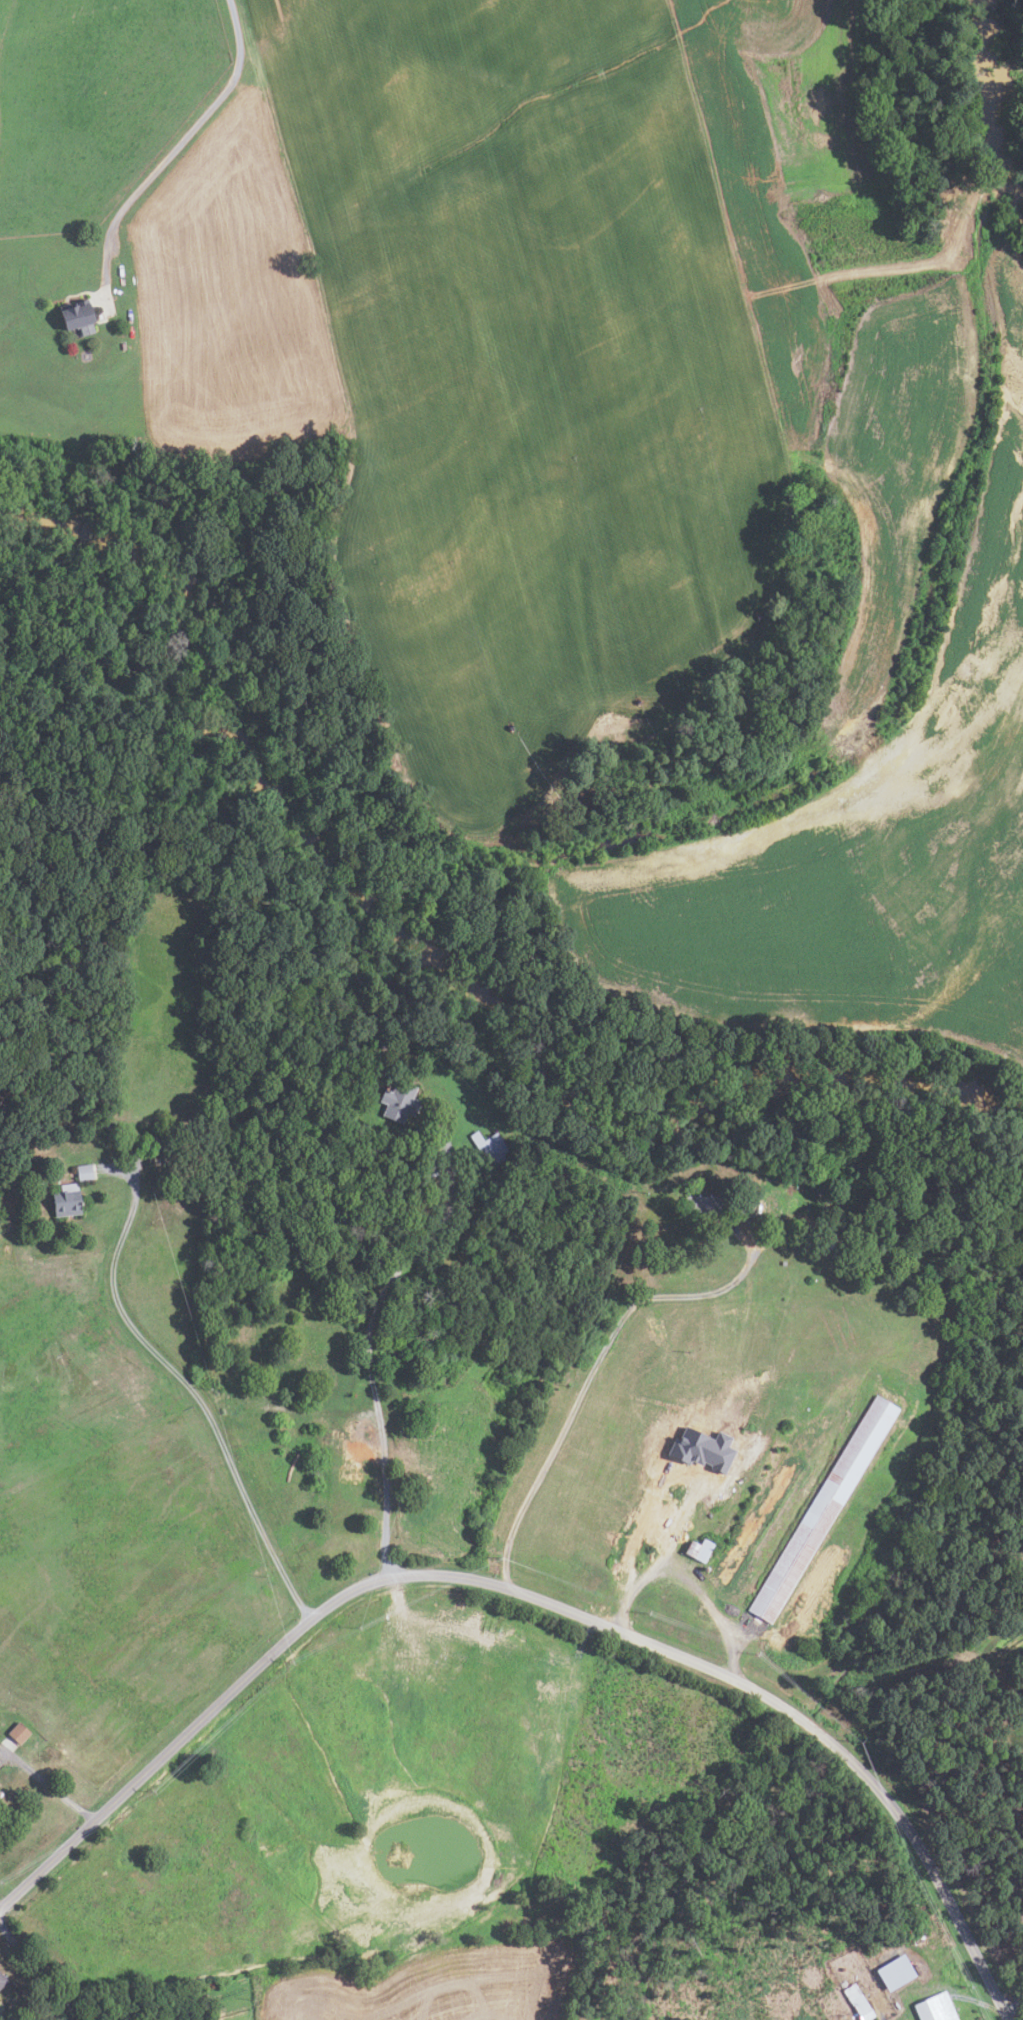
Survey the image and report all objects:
road: (171, 136)
building: (76, 319)
building: (397, 1101)
building: (107, 1125)
building: (130, 1135)
building: (158, 1145)
building: (488, 1147)
building: (82, 1172)
building: (12, 1175)
building: (40, 1186)
building: (64, 1200)
building: (703, 1203)
building: (759, 1205)
building: (829, 1244)
road: (367, 1350)
building: (226, 1371)
building: (228, 1379)
road: (590, 1379)
building: (266, 1381)
road: (192, 1393)
road: (329, 1412)
building: (325, 1437)
building: (698, 1449)
building: (822, 1510)
road: (641, 1549)
building: (697, 1550)
road: (708, 1596)
road: (533, 1599)
building: (1022, 1704)
building: (17, 1733)
road: (49, 1781)
road: (1, 1906)
road: (38, 1971)
building: (895, 1972)
building: (2, 1981)
building: (857, 2002)
road: (1015, 2007)
building: (934, 2008)
road: (54, 2010)

